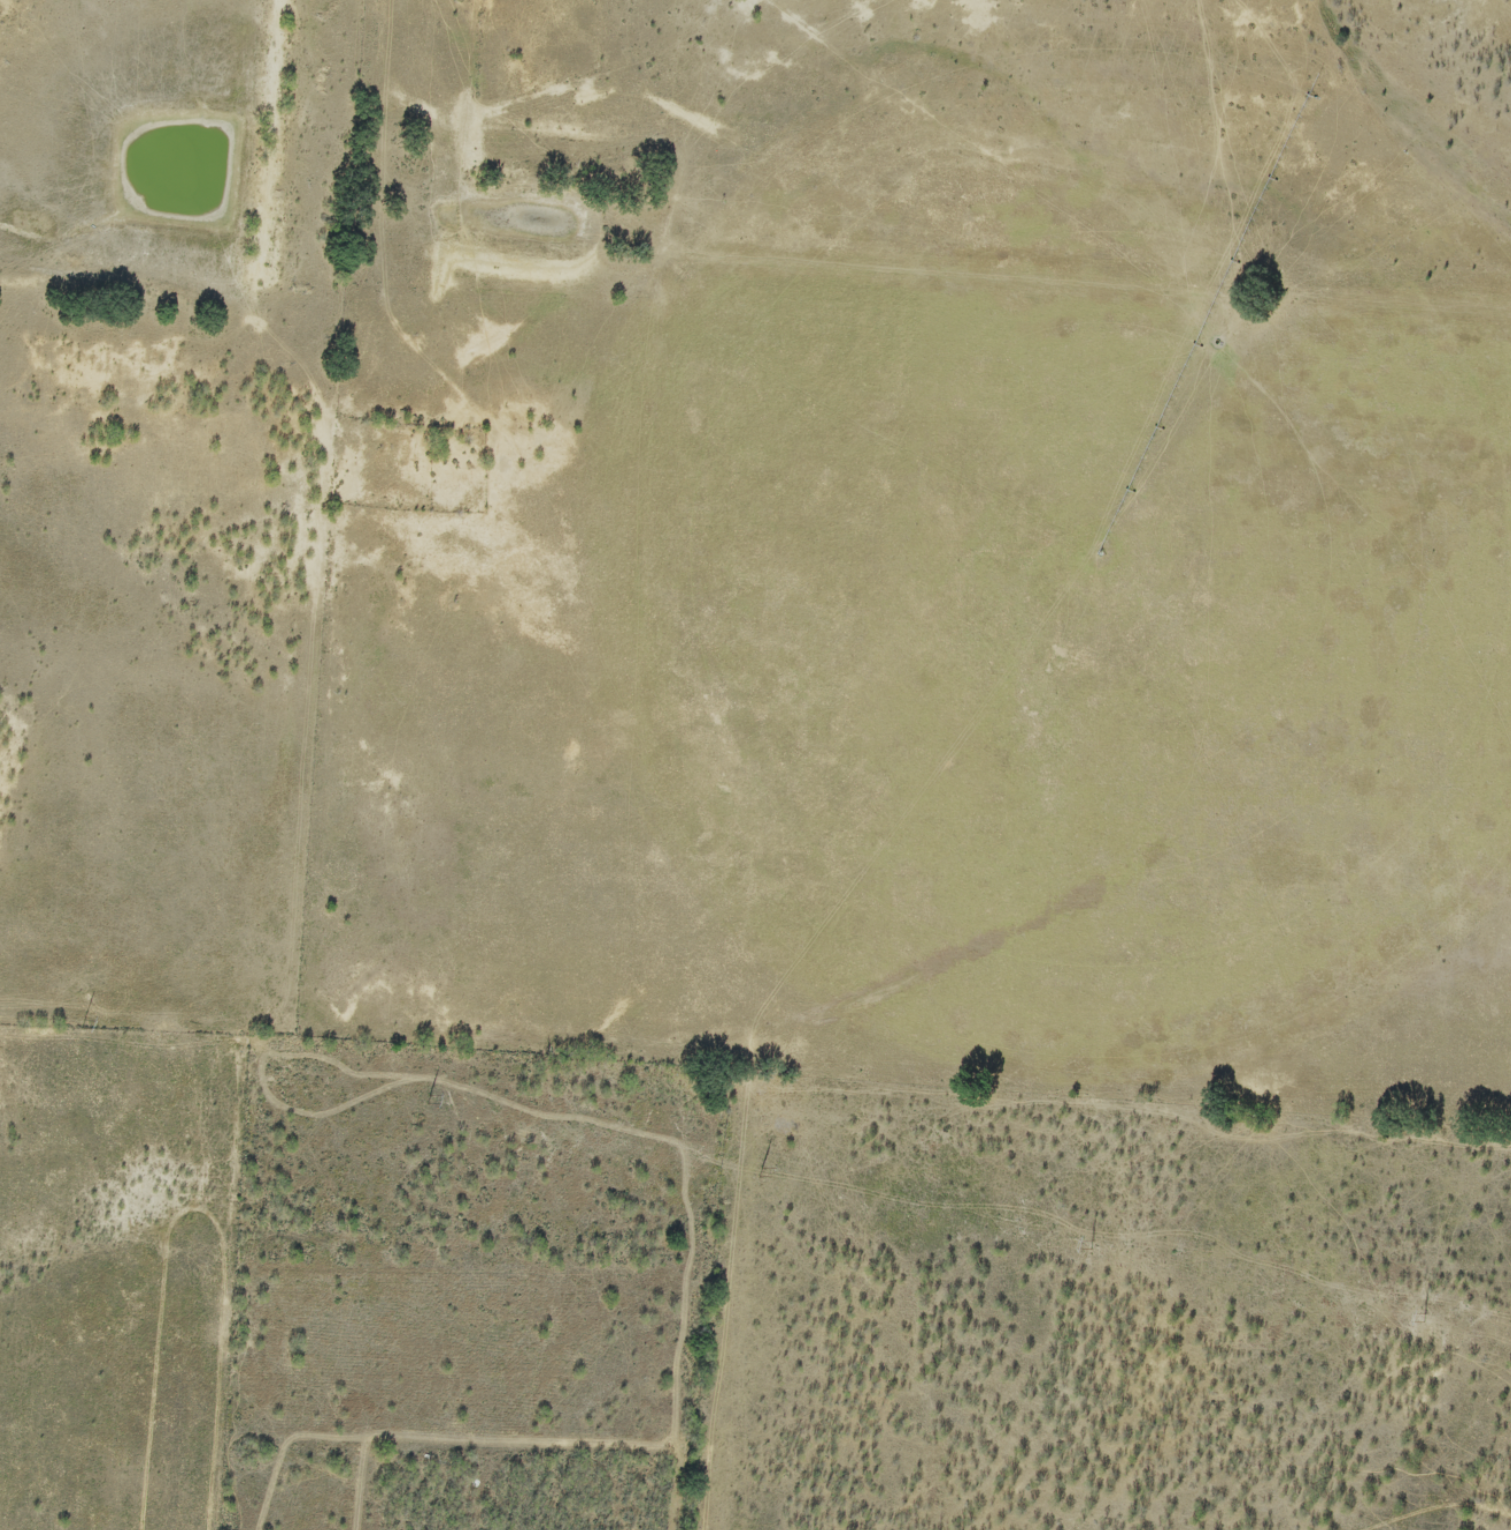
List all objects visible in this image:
power tower: (82, 1021)
power tower: (428, 1097)
power tower: (760, 1170)
power tower: (1093, 1241)
power tower: (1426, 1315)

